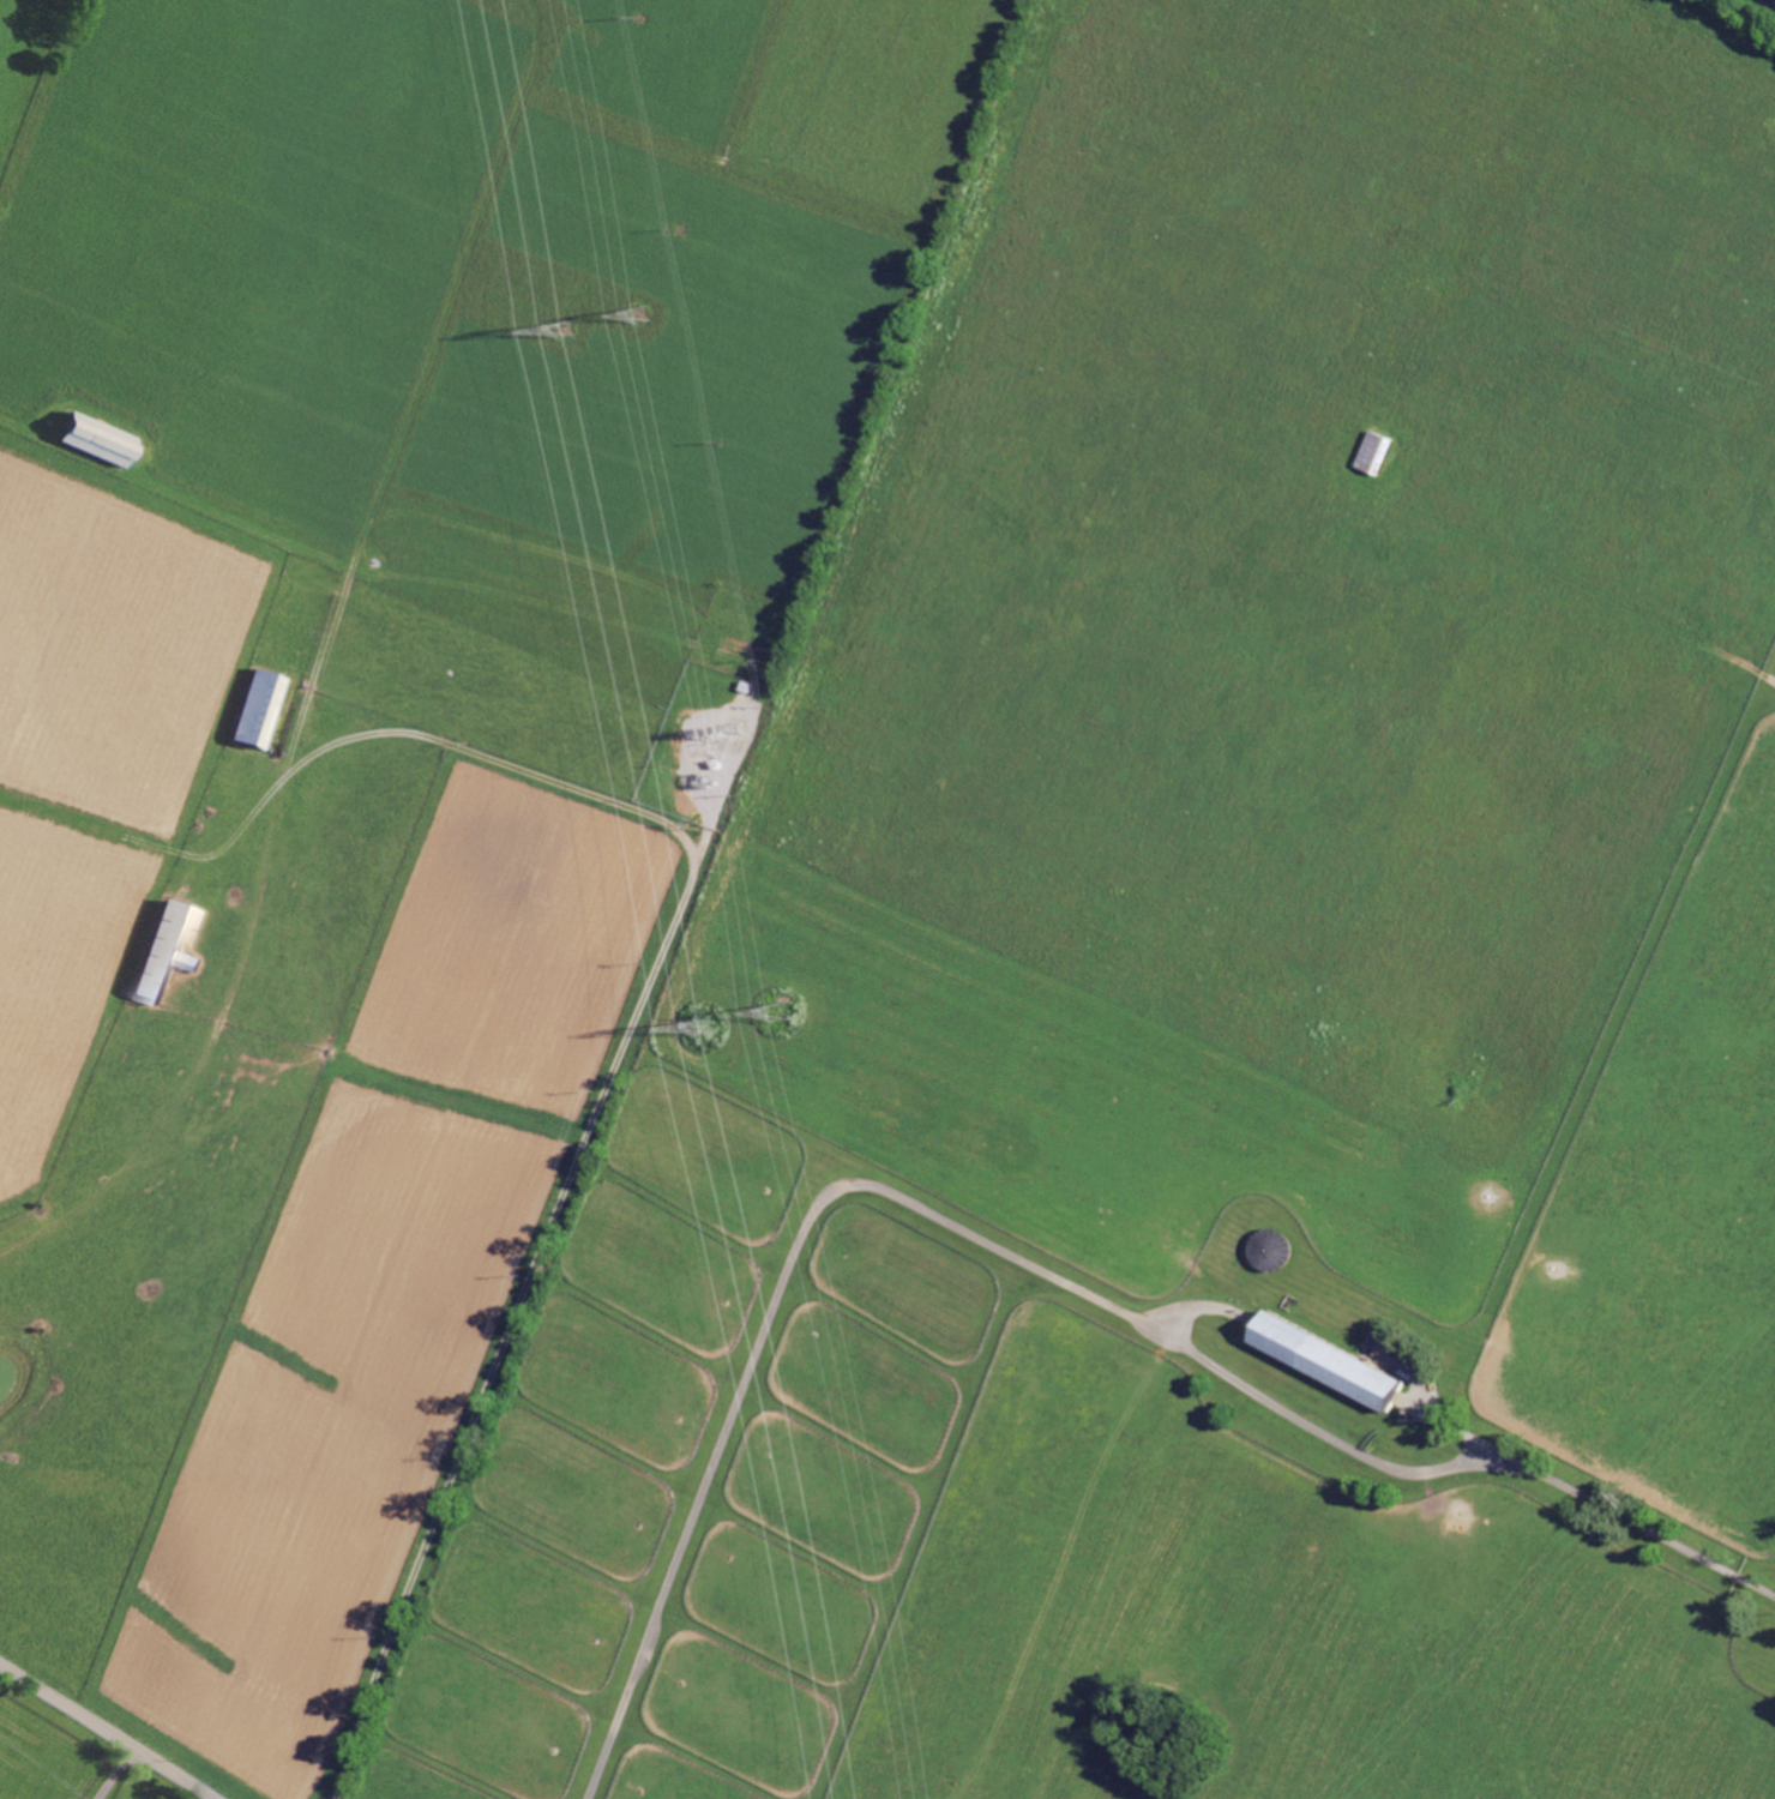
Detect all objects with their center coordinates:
power tower: (655, 315)
power tower: (573, 326)
building: (103, 440)
building: (263, 709)
building: (172, 952)
power tower: (782, 1013)
power tower: (711, 1035)
road: (612, 1070)
road: (1006, 1255)
building: (1335, 1359)
road: (110, 1728)
road: (115, 1770)

